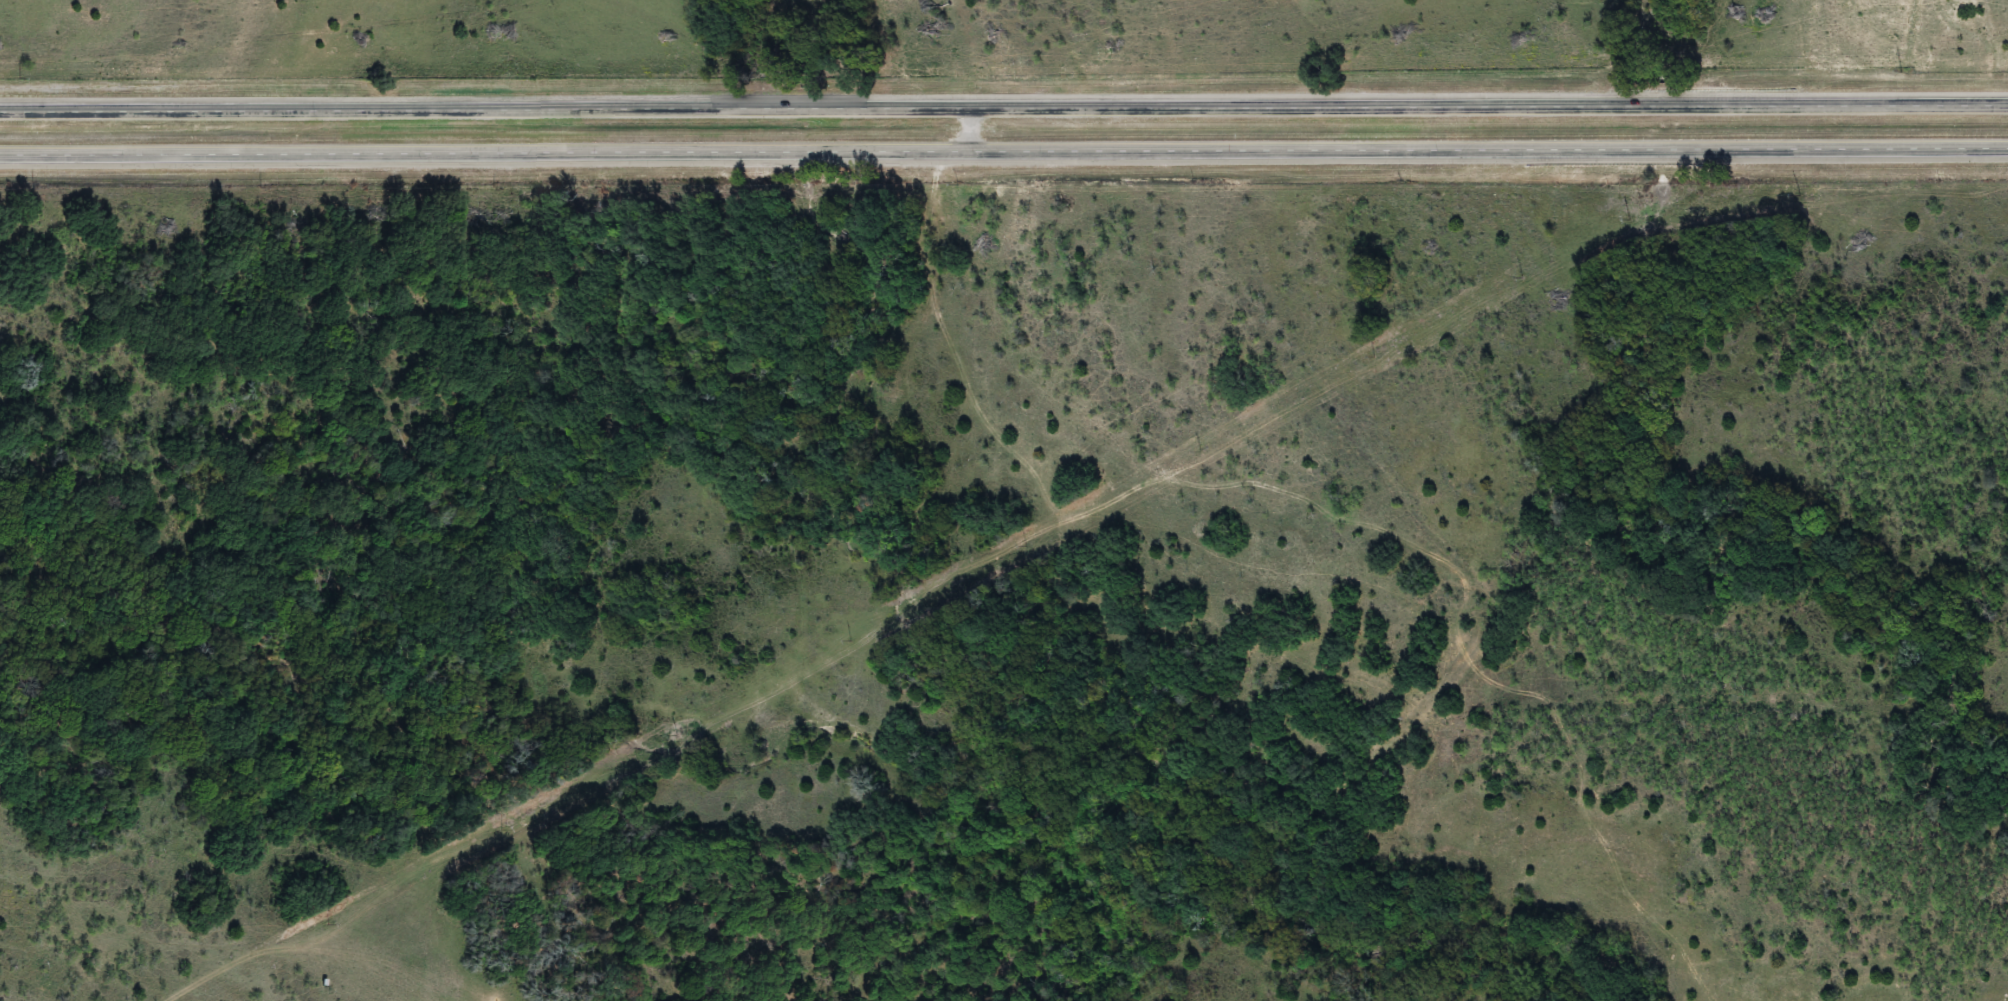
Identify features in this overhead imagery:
road: (1004, 114)
road: (1004, 156)

